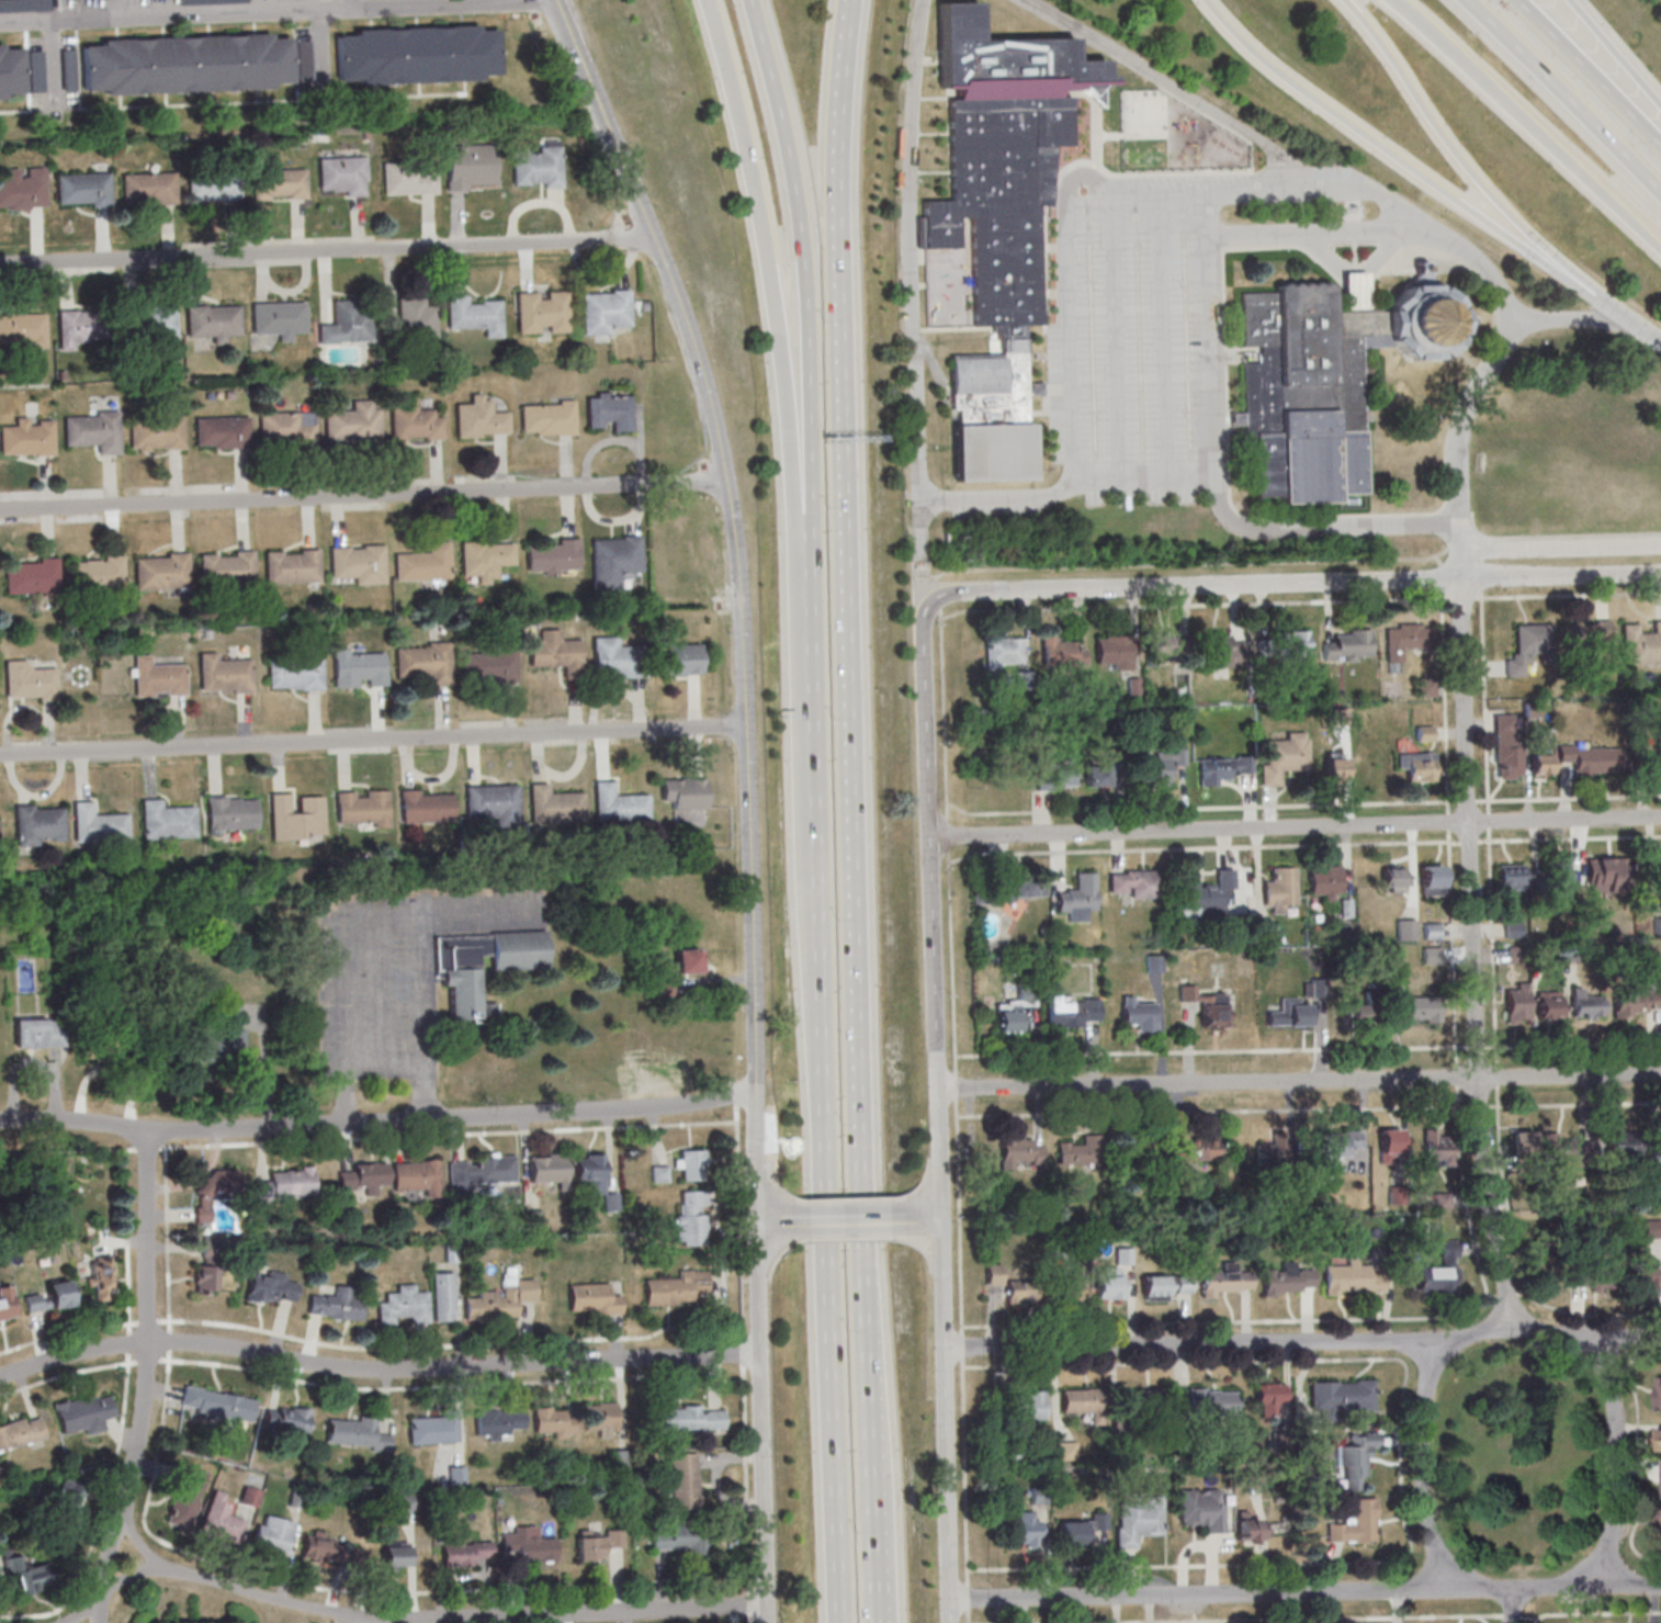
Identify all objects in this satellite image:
building: (228, 0)
road: (351, 4)
building: (24, 5)
road: (258, 12)
road: (1612, 53)
building: (416, 56)
building: (304, 60)
building: (184, 66)
building: (9, 68)
building: (68, 69)
building: (35, 70)
road: (1590, 72)
road: (1172, 84)
road: (1564, 95)
road: (604, 114)
road: (1527, 121)
road: (1394, 153)
road: (1458, 154)
building: (470, 166)
building: (538, 168)
building: (341, 174)
building: (407, 179)
parking lot: (1189, 182)
building: (278, 184)
building: (21, 185)
building: (212, 185)
building: (147, 187)
building: (82, 188)
road: (1325, 192)
road: (1130, 200)
road: (1212, 217)
building: (995, 222)
road: (1320, 235)
road: (326, 249)
road: (1484, 269)
road: (1354, 272)
road: (911, 279)
building: (1422, 280)
building: (603, 309)
road: (1616, 309)
building: (540, 311)
building: (475, 315)
building: (276, 316)
building: (211, 318)
building: (409, 319)
building: (1423, 320)
building: (146, 322)
building: (344, 322)
building: (83, 324)
building: (21, 326)
road: (1650, 334)
road: (1072, 339)
road: (1165, 339)
road: (811, 340)
road: (781, 341)
road: (843, 341)
road: (1118, 341)
parking lot: (1134, 358)
road: (1214, 358)
road: (1491, 363)
building: (1033, 390)
building: (1307, 391)
building: (607, 410)
building: (477, 417)
building: (546, 417)
building: (413, 421)
building: (350, 425)
building: (284, 427)
building: (91, 430)
building: (155, 431)
building: (219, 431)
building: (25, 438)
road: (1067, 489)
road: (363, 495)
road: (1323, 528)
road: (1460, 536)
road: (1561, 545)
road: (1461, 555)
building: (553, 556)
building: (482, 559)
building: (612, 559)
building: (354, 561)
building: (425, 564)
building: (290, 565)
building: (225, 567)
road: (1461, 570)
building: (159, 571)
building: (94, 573)
road: (738, 574)
road: (1561, 574)
building: (30, 575)
road: (1190, 584)
building: (1589, 634)
building: (1406, 639)
building: (1292, 642)
building: (1641, 644)
building: (1157, 645)
building: (1349, 645)
building: (1528, 646)
building: (1224, 651)
building: (1062, 652)
building: (1114, 652)
building: (556, 653)
building: (1004, 653)
building: (615, 657)
building: (679, 660)
building: (423, 662)
building: (488, 666)
building: (354, 667)
building: (224, 673)
building: (293, 673)
building: (160, 678)
building: (29, 679)
road: (373, 740)
building: (1507, 746)
building: (1178, 756)
building: (1591, 758)
building: (1281, 759)
building: (1343, 764)
building: (1417, 765)
building: (1540, 765)
building: (1222, 768)
building: (1155, 770)
building: (1097, 775)
building: (1054, 776)
building: (685, 792)
building: (490, 802)
building: (615, 803)
building: (552, 804)
building: (421, 805)
building: (359, 807)
building: (227, 812)
building: (293, 815)
building: (163, 820)
building: (95, 823)
building: (35, 824)
road: (1295, 826)
building: (1607, 874)
building: (1511, 876)
building: (1659, 876)
building: (1556, 877)
building: (1396, 879)
building: (1432, 879)
building: (1324, 881)
building: (1135, 883)
building: (1025, 889)
building: (1279, 889)
building: (1205, 894)
building: (1080, 898)
road: (931, 914)
building: (1513, 928)
building: (1406, 929)
road: (1472, 951)
building: (687, 960)
building: (457, 977)
building: (663, 988)
building: (1639, 998)
building: (1517, 1003)
building: (1548, 1003)
building: (1585, 1005)
building: (1207, 1006)
building: (1413, 1007)
building: (1015, 1008)
building: (1295, 1010)
building: (1074, 1011)
building: (1139, 1013)
building: (1355, 1013)
building: (37, 1032)
building: (103, 1040)
building: (214, 1047)
road: (383, 1067)
road: (754, 1078)
road: (1299, 1081)
road: (377, 1123)
road: (868, 1132)
building: (1522, 1143)
building: (1337, 1145)
building: (1389, 1145)
building: (1435, 1148)
building: (1624, 1148)
building: (1019, 1150)
building: (1190, 1150)
building: (1080, 1151)
building: (1571, 1152)
building: (1272, 1153)
road: (830, 1156)
building: (691, 1163)
building: (549, 1169)
building: (478, 1172)
building: (660, 1173)
building: (364, 1176)
building: (418, 1176)
building: (596, 1177)
building: (285, 1184)
building: (215, 1191)
building: (692, 1217)
road: (925, 1218)
road: (851, 1221)
road: (776, 1224)
building: (1651, 1228)
building: (1440, 1271)
building: (994, 1274)
building: (1591, 1275)
building: (102, 1277)
building: (1645, 1277)
building: (204, 1278)
building: (1288, 1278)
building: (1352, 1278)
building: (1227, 1280)
building: (1109, 1283)
building: (271, 1286)
building: (1165, 1286)
building: (677, 1288)
building: (1071, 1289)
building: (1018, 1290)
building: (50, 1296)
building: (443, 1296)
building: (501, 1297)
building: (594, 1298)
building: (7, 1303)
building: (337, 1305)
building: (402, 1305)
road: (1626, 1337)
road: (1275, 1342)
road: (744, 1359)
road: (376, 1368)
road: (145, 1379)
building: (1659, 1393)
building: (1341, 1397)
building: (1269, 1399)
building: (1081, 1400)
building: (1146, 1401)
building: (1211, 1401)
building: (217, 1404)
building: (1029, 1406)
building: (84, 1412)
building: (286, 1418)
building: (602, 1418)
building: (693, 1418)
road: (947, 1420)
building: (554, 1421)
building: (497, 1422)
road: (761, 1423)
building: (433, 1428)
building: (21, 1431)
building: (357, 1433)
building: (1660, 1440)
building: (1356, 1459)
road: (1615, 1459)
road: (1422, 1466)
building: (0, 1480)
building: (685, 1480)
building: (250, 1496)
building: (187, 1497)
building: (69, 1498)
building: (404, 1501)
building: (1201, 1508)
building: (221, 1520)
building: (1139, 1521)
building: (1355, 1523)
building: (1081, 1528)
building: (1027, 1529)
building: (1245, 1529)
building: (273, 1534)
building: (681, 1537)
building: (597, 1543)
building: (532, 1547)
building: (327, 1548)
building: (463, 1552)
building: (395, 1553)
building: (27, 1574)
road: (1625, 1582)
road: (1276, 1592)
road: (885, 1602)
road: (1511, 1607)
road: (432, 1619)
road: (360, 1622)

